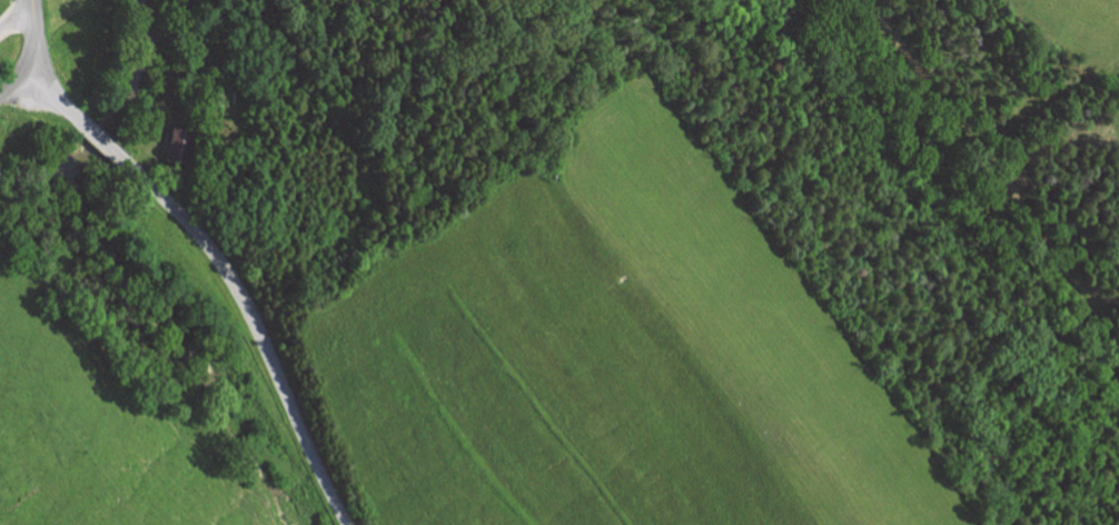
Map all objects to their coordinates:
road: (16, 14)
road: (30, 34)
road: (11, 81)
road: (52, 91)
road: (101, 140)
building: (180, 146)
road: (258, 327)

